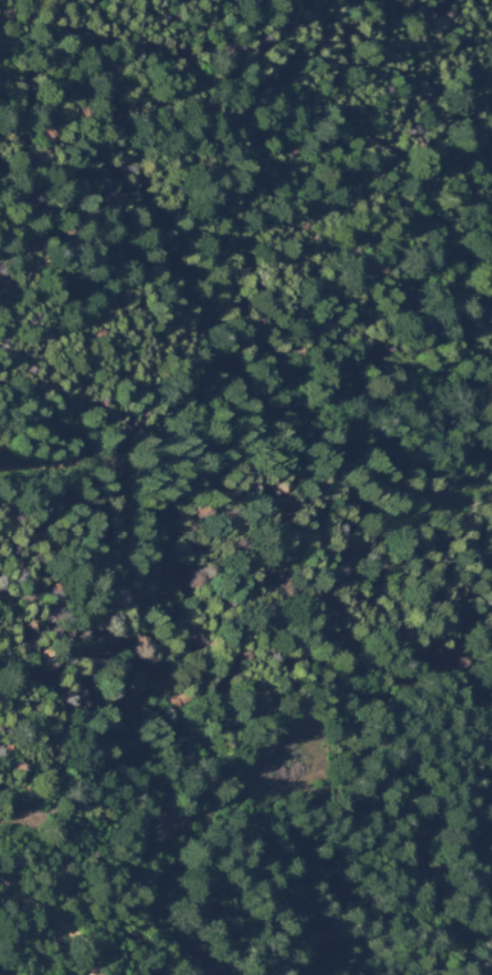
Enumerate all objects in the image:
road: (65, 914)
road: (355, 934)

